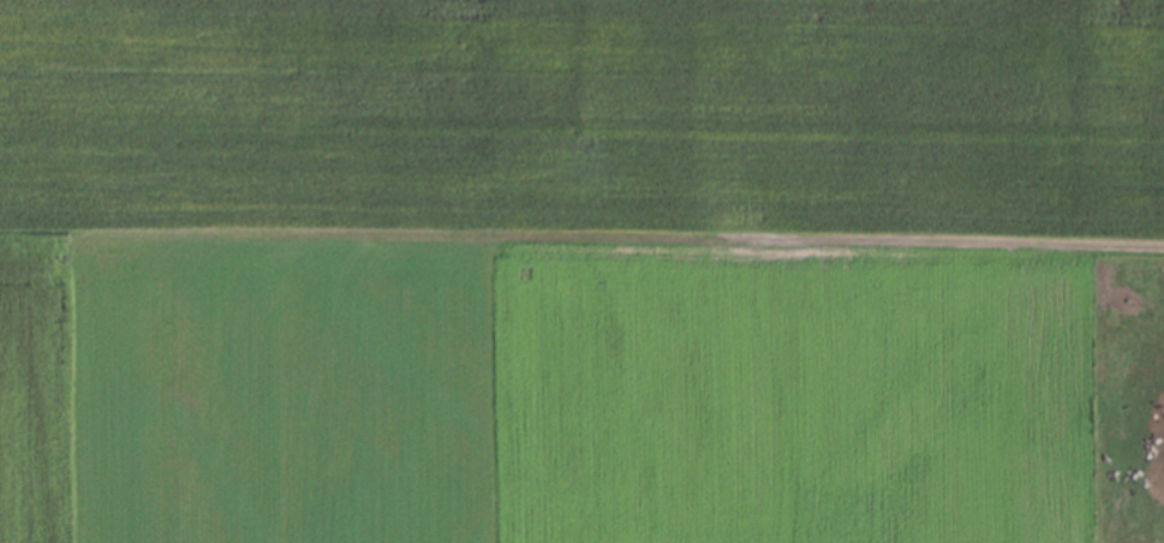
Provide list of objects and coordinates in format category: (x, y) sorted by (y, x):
crop: (589, 120)

